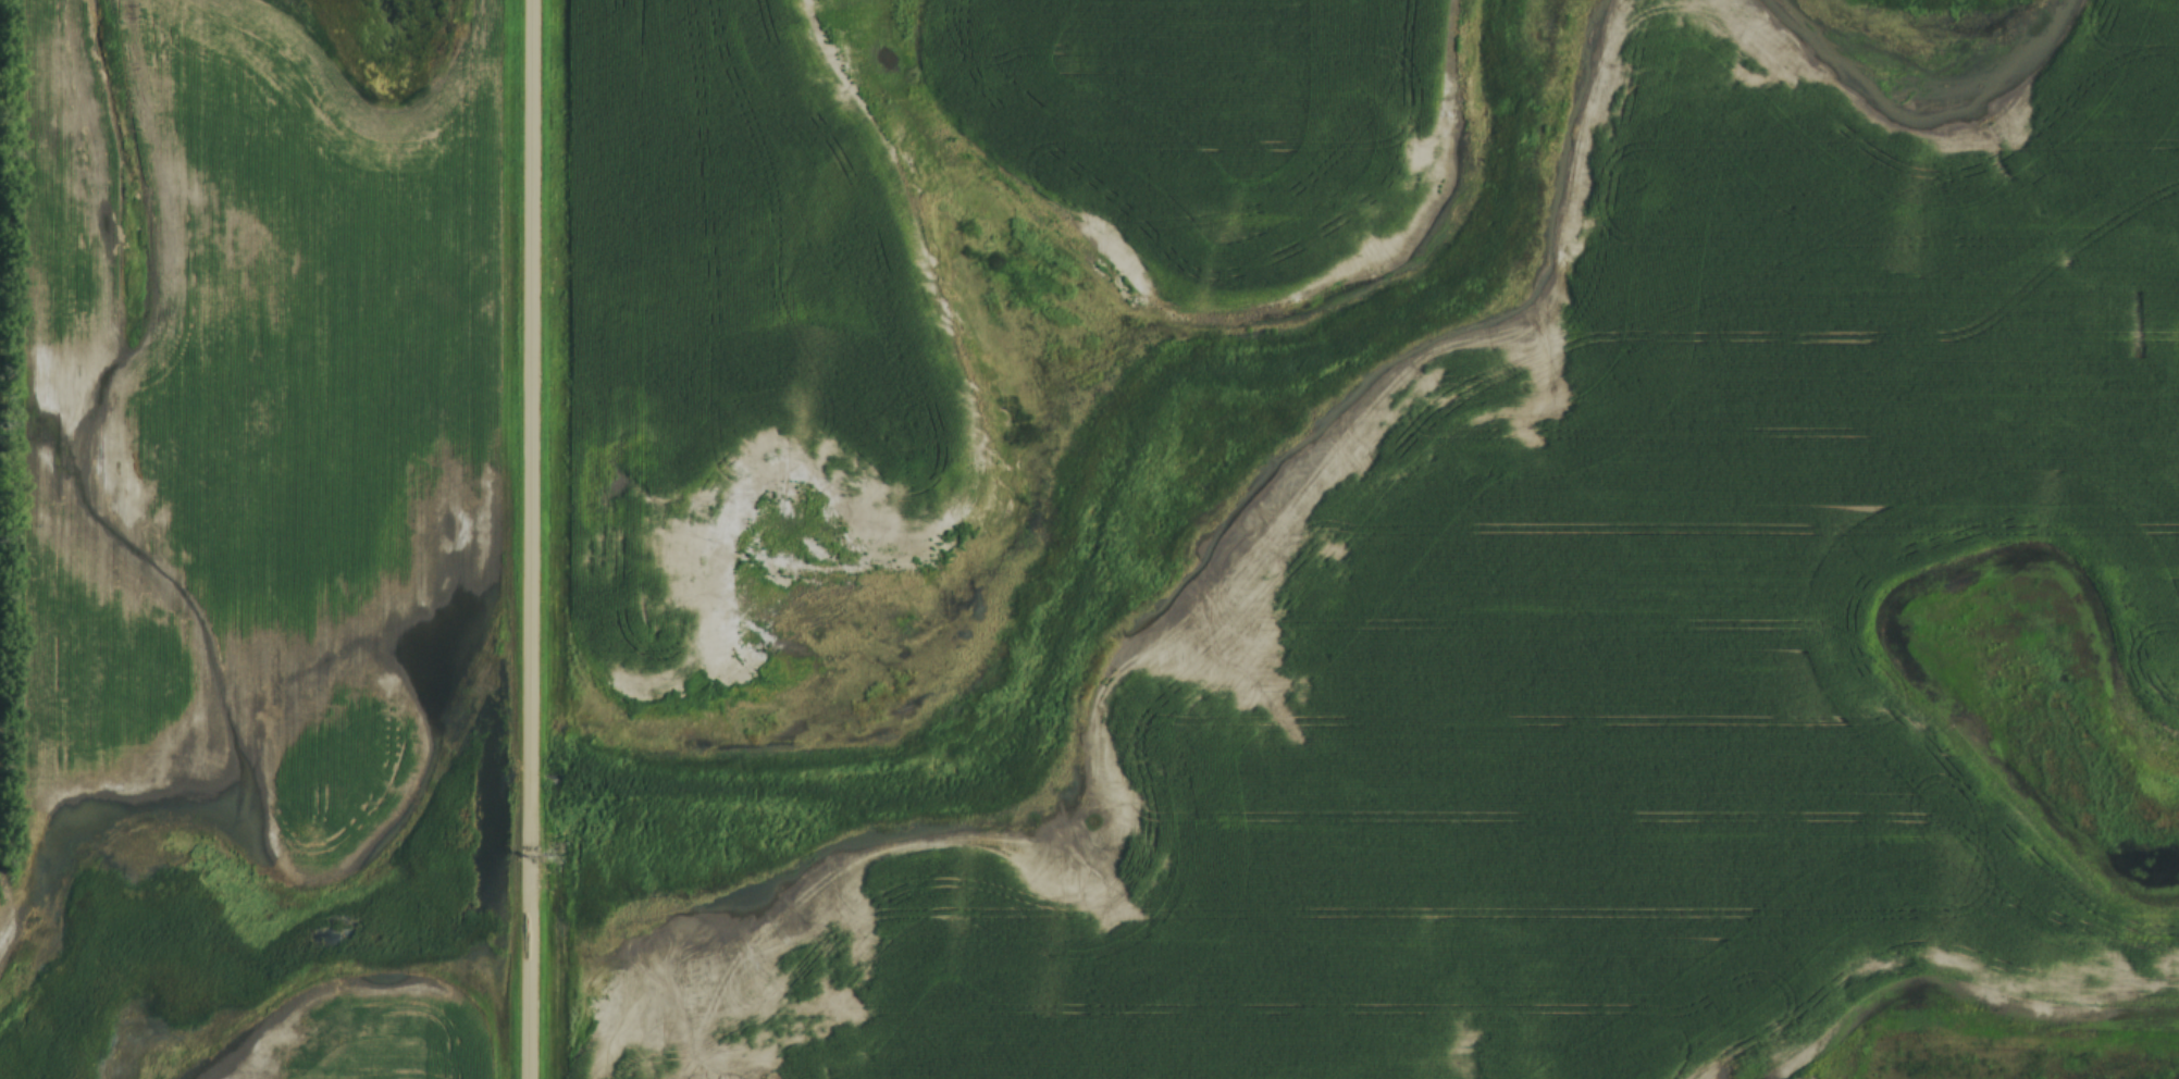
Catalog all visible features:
road: (533, 539)

